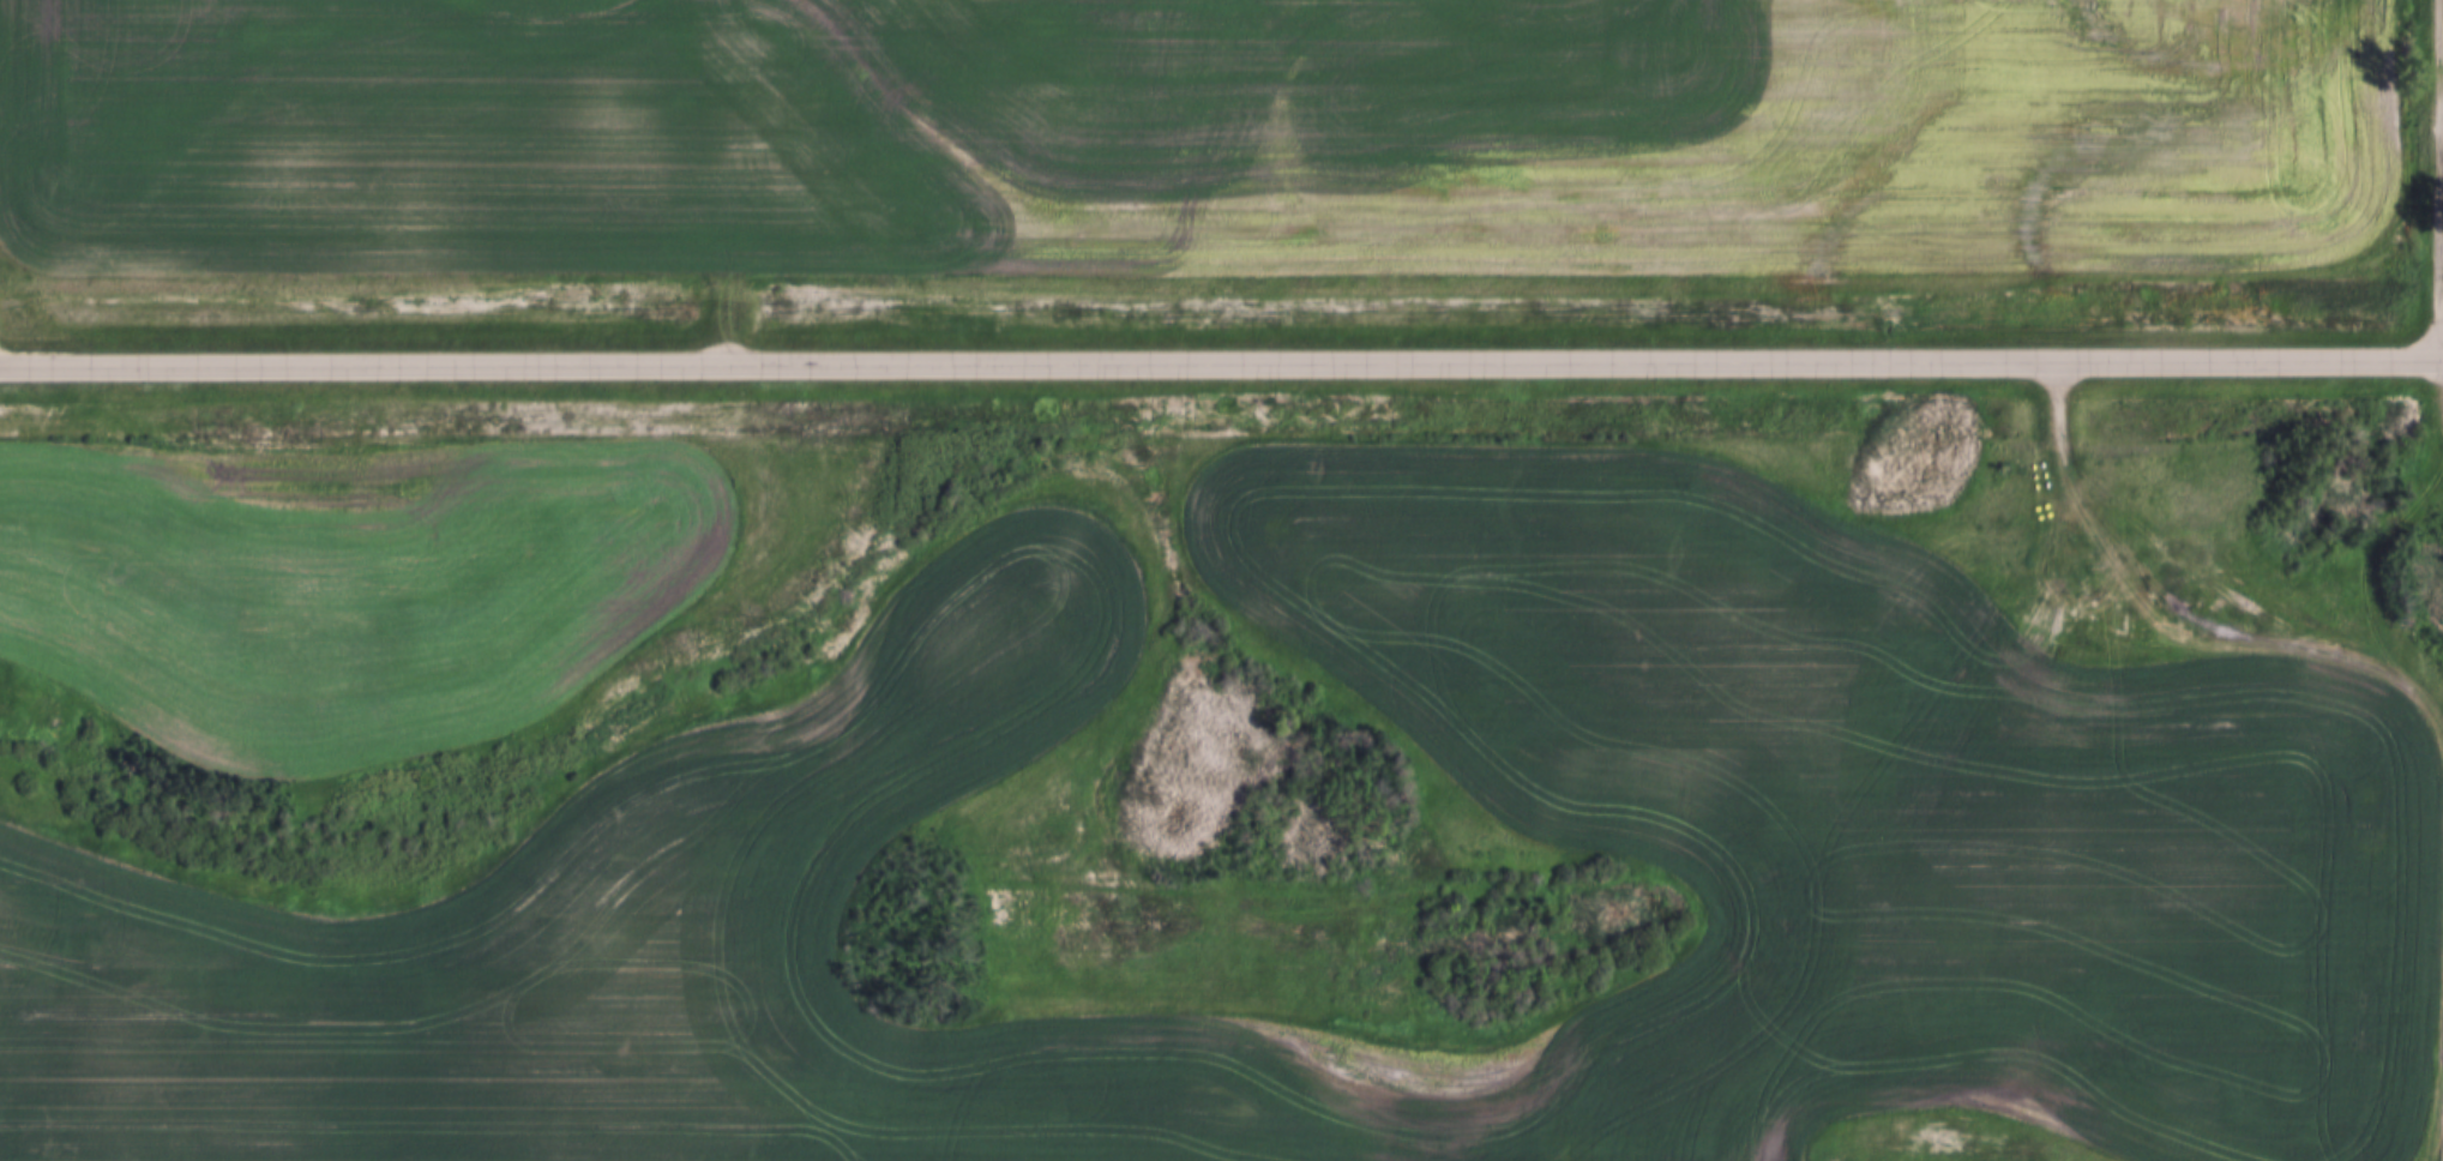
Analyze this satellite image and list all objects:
road: (2439, 181)
road: (1221, 366)
road: (2396, 675)

